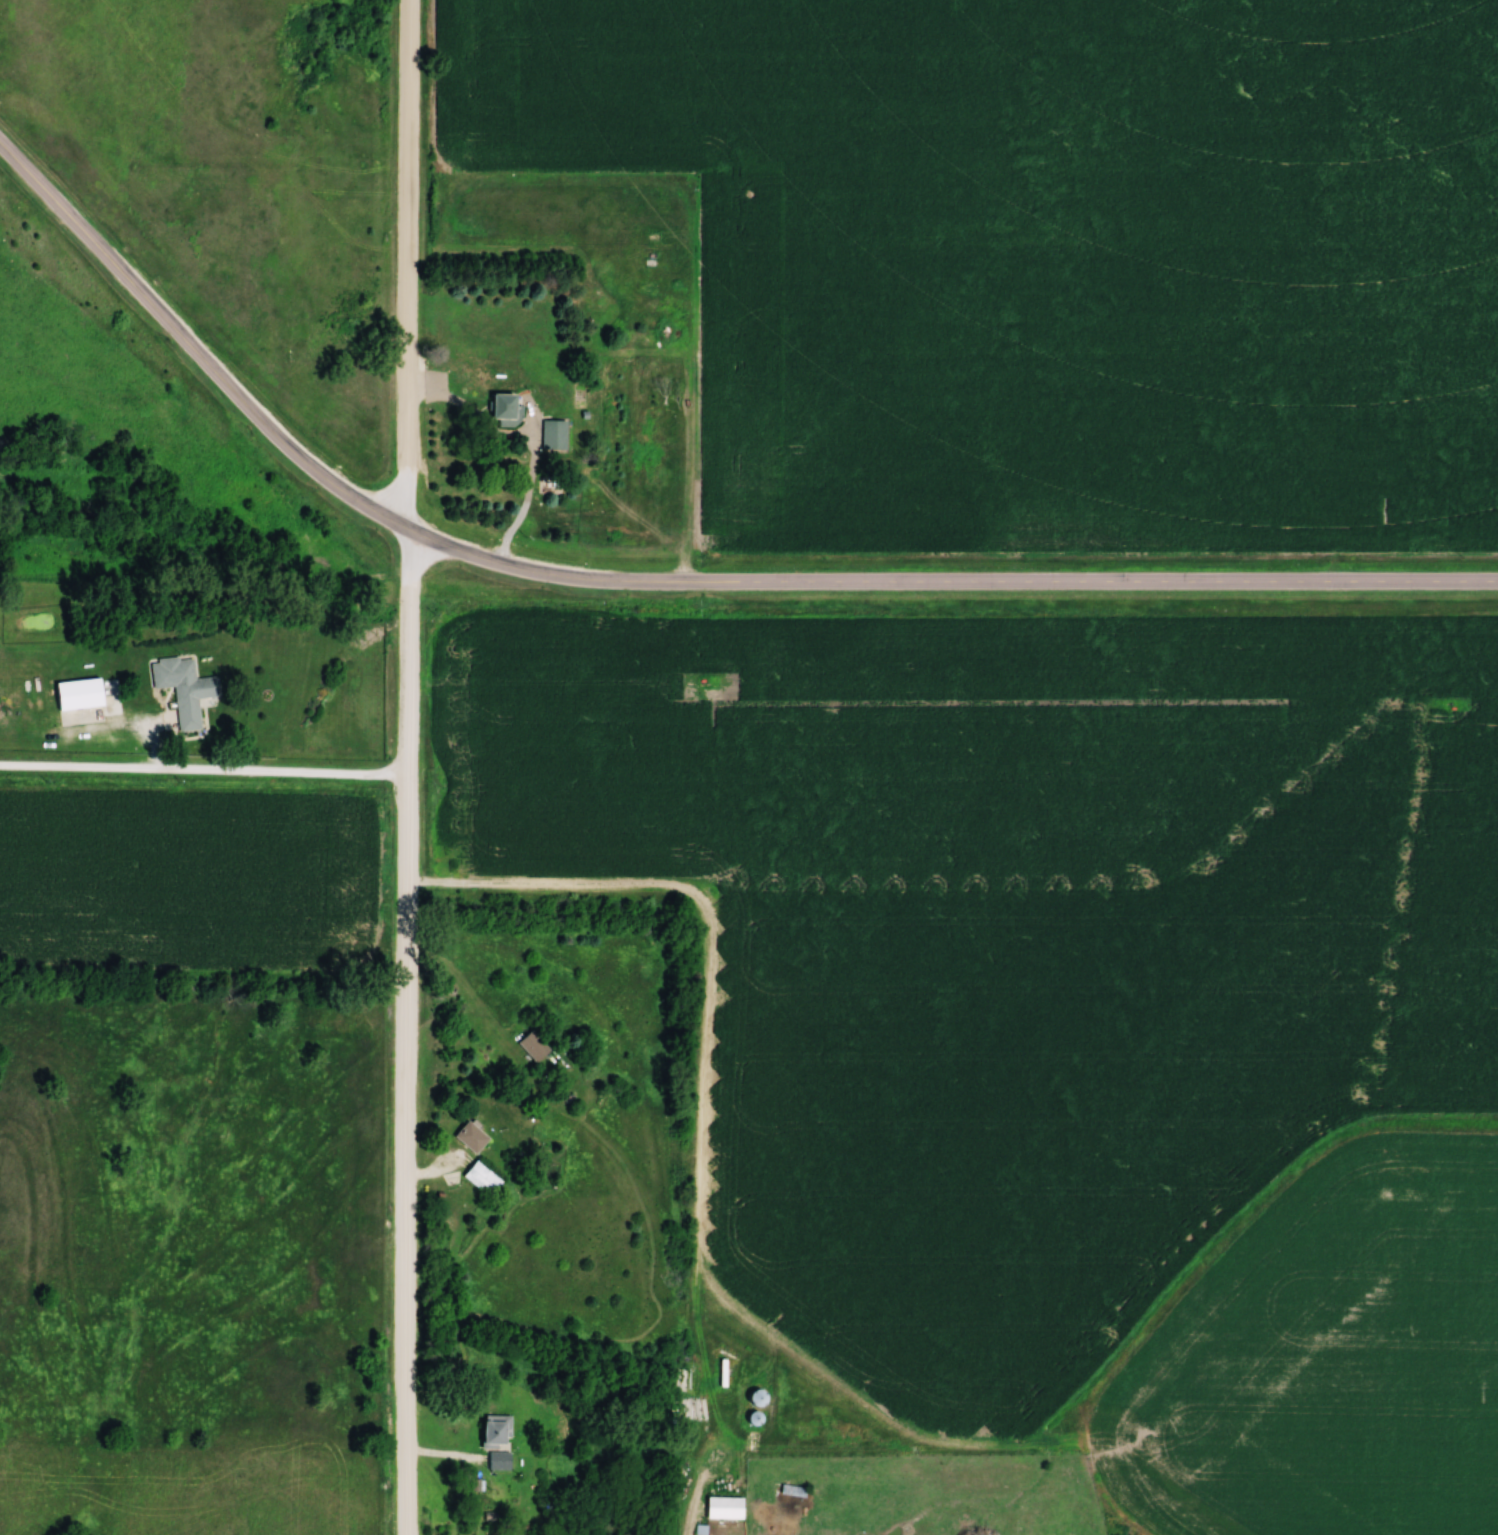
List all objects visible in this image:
road: (406, 303)
building: (503, 409)
building: (552, 434)
road: (664, 580)
building: (182, 689)
building: (77, 694)
road: (203, 768)
building: (532, 1046)
road: (405, 1070)
building: (469, 1137)
road: (433, 1171)
building: (480, 1178)
building: (755, 1398)
building: (752, 1418)
building: (493, 1430)
building: (498, 1461)
building: (722, 1509)

